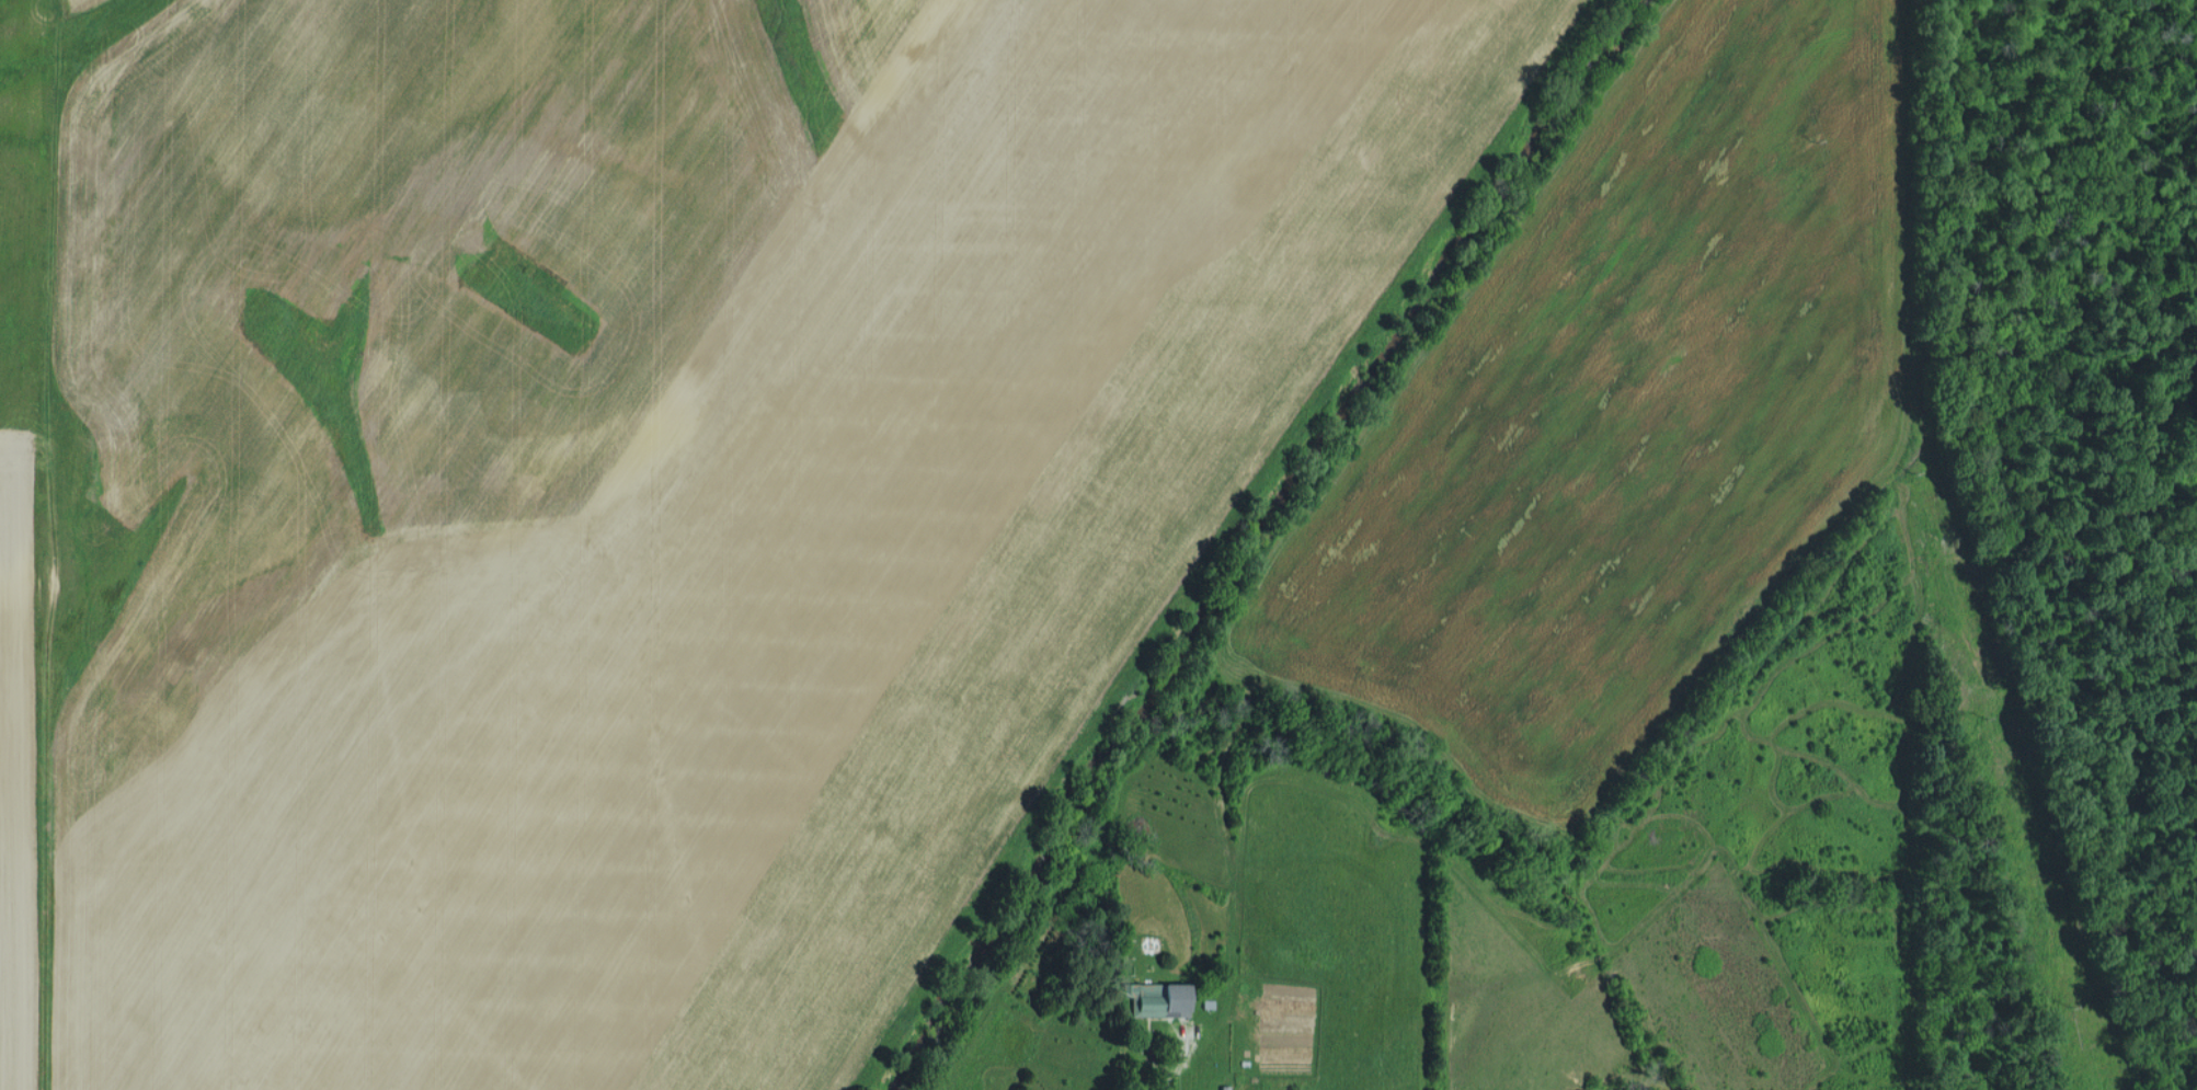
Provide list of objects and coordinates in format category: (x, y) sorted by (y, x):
building: (1158, 999)
road: (1148, 1056)
road: (1178, 1065)

